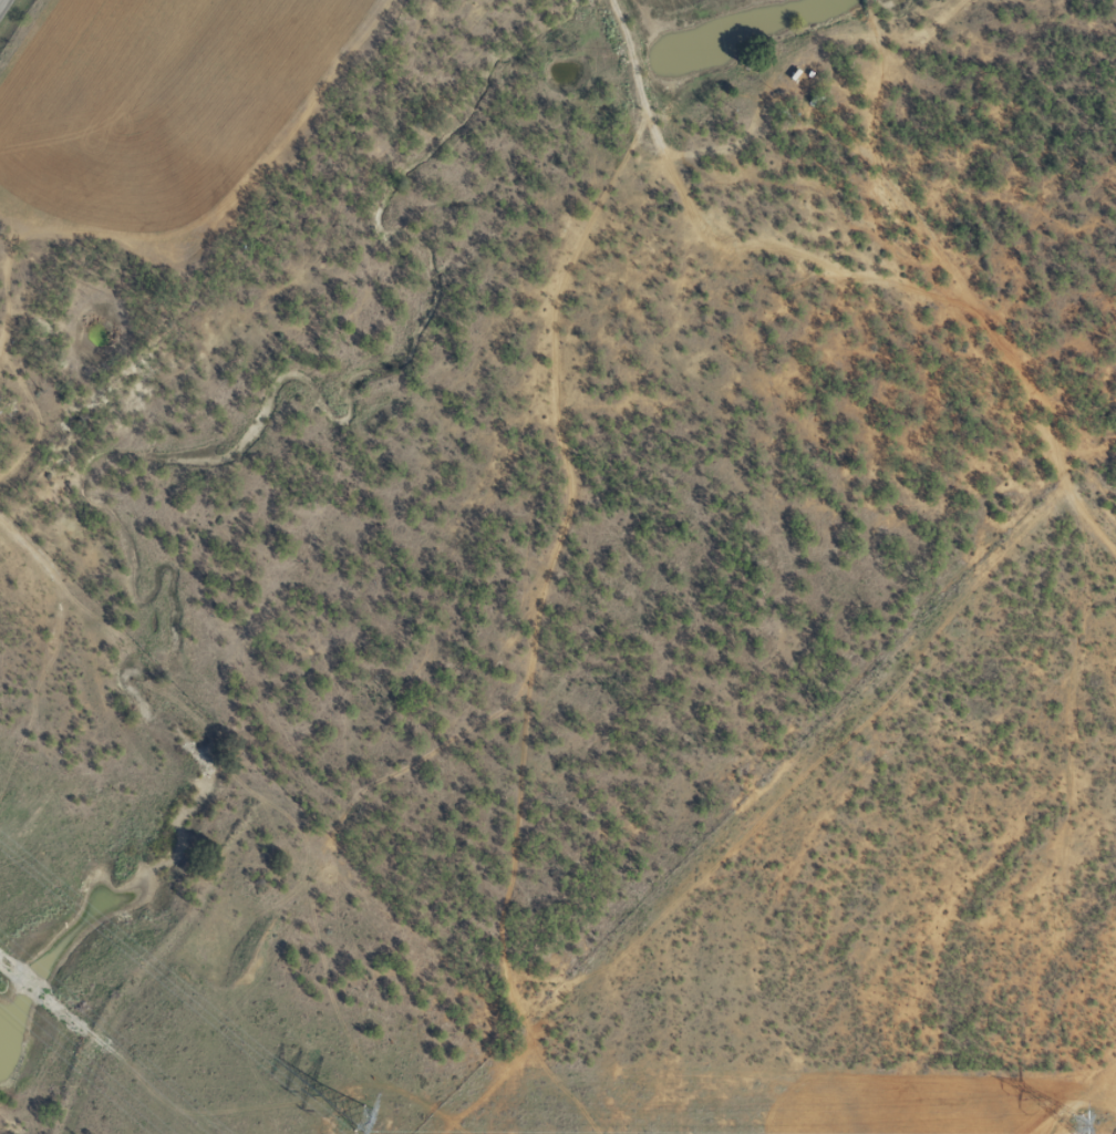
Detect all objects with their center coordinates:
road: (1, 2)
road: (595, 82)
road: (728, 816)
power tower: (359, 1120)
power tower: (1074, 1124)

